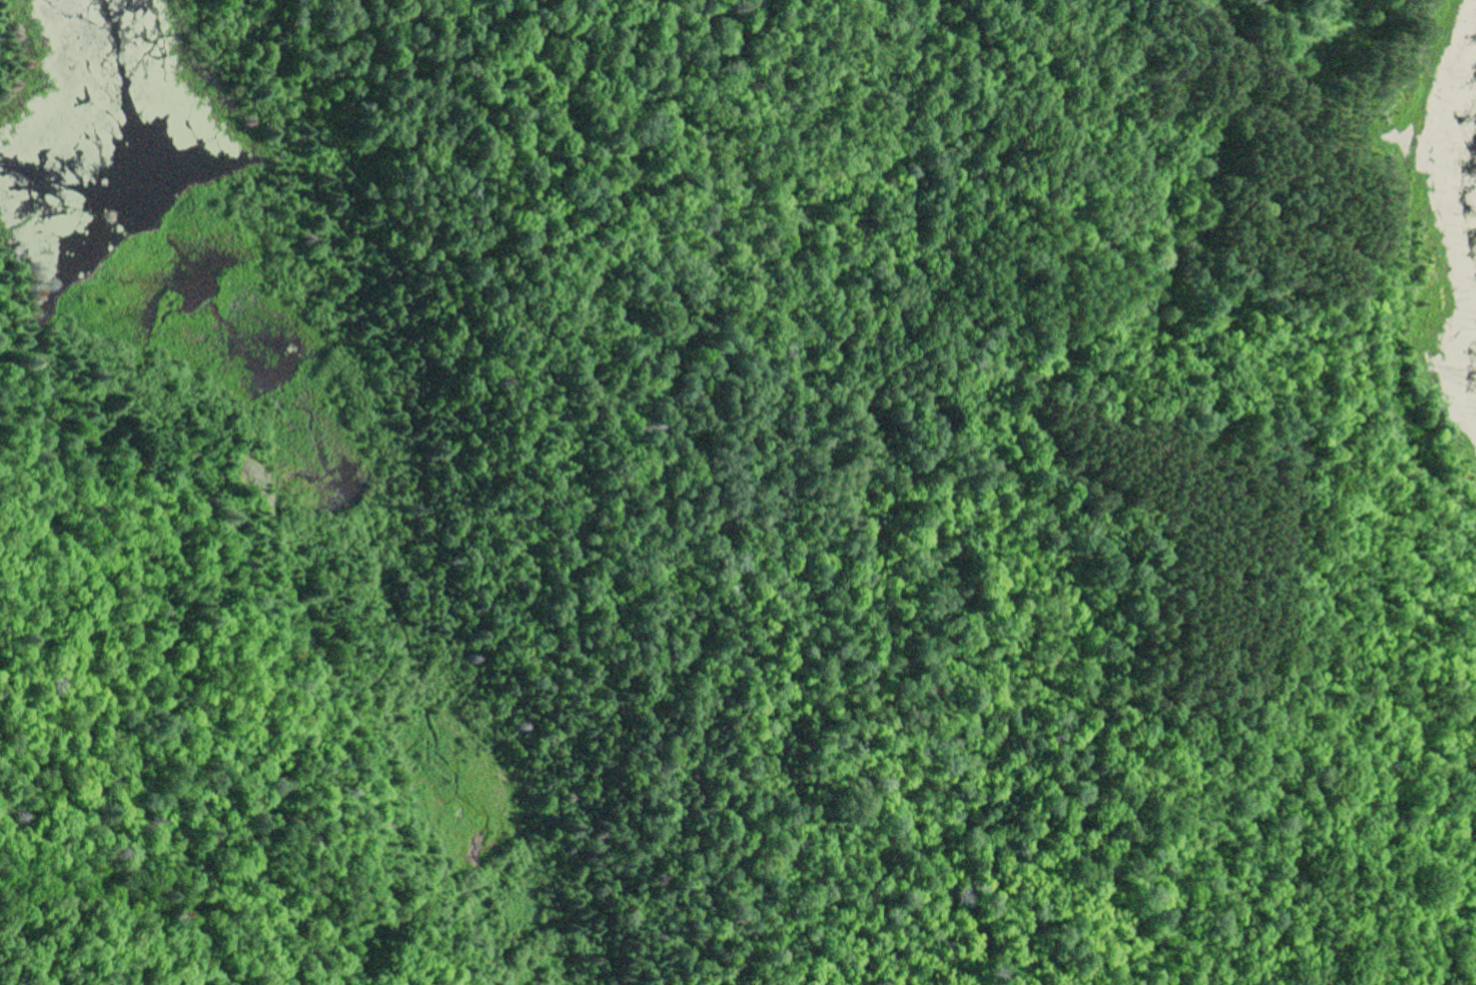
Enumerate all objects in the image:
road: (1186, 561)

